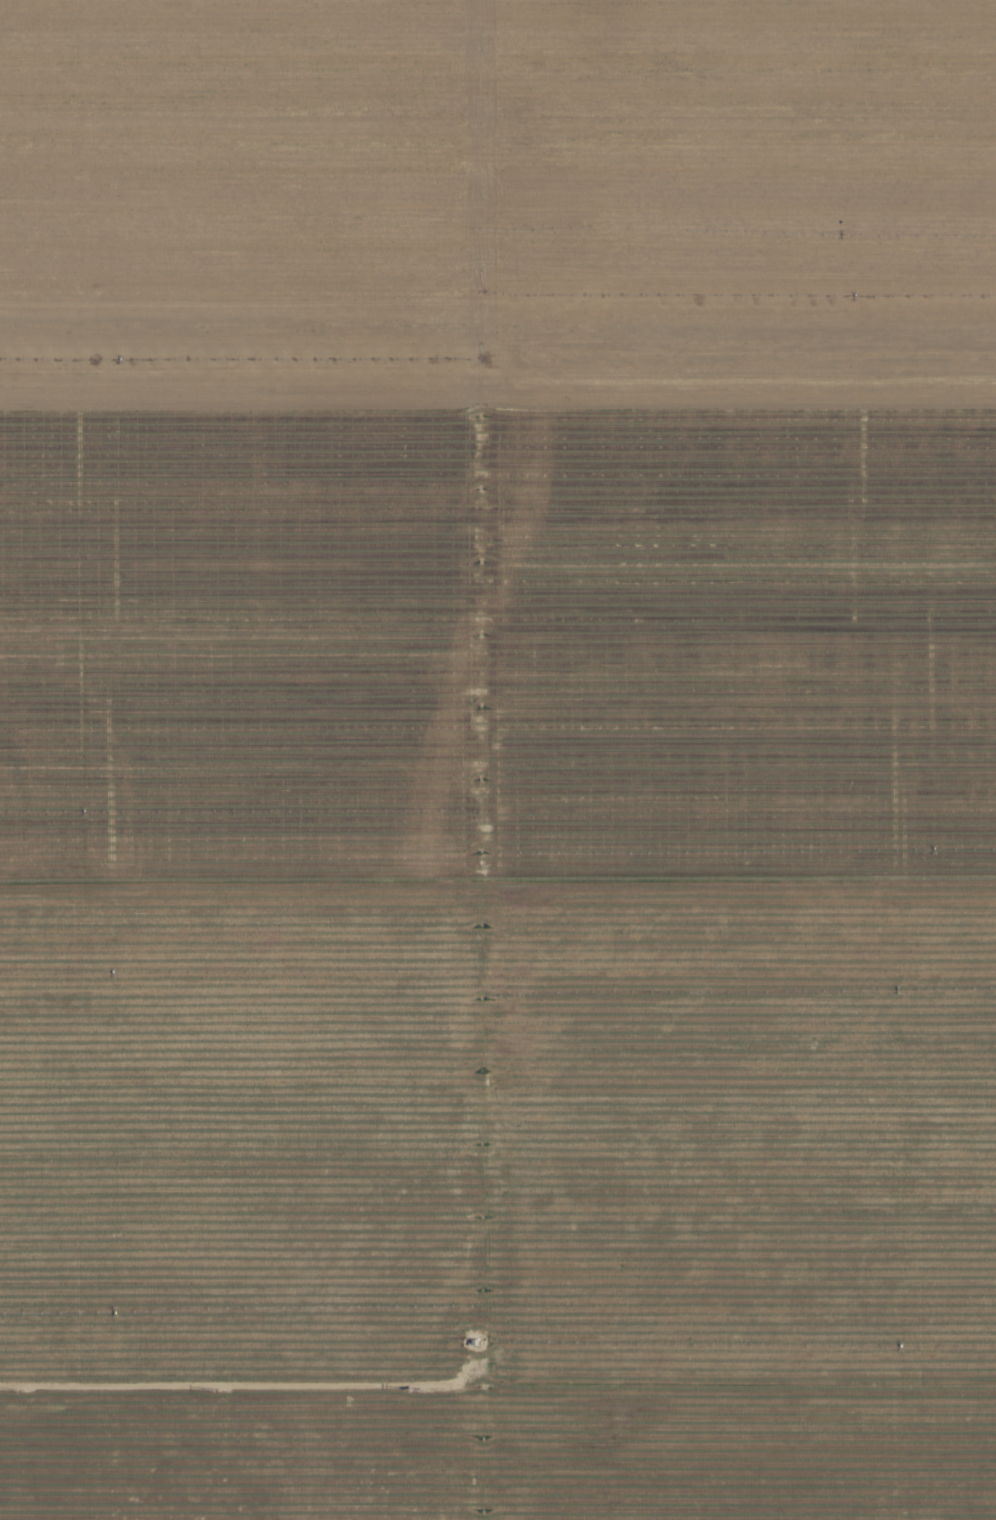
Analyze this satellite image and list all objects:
crop: (498, 760)
road: (224, 1381)

